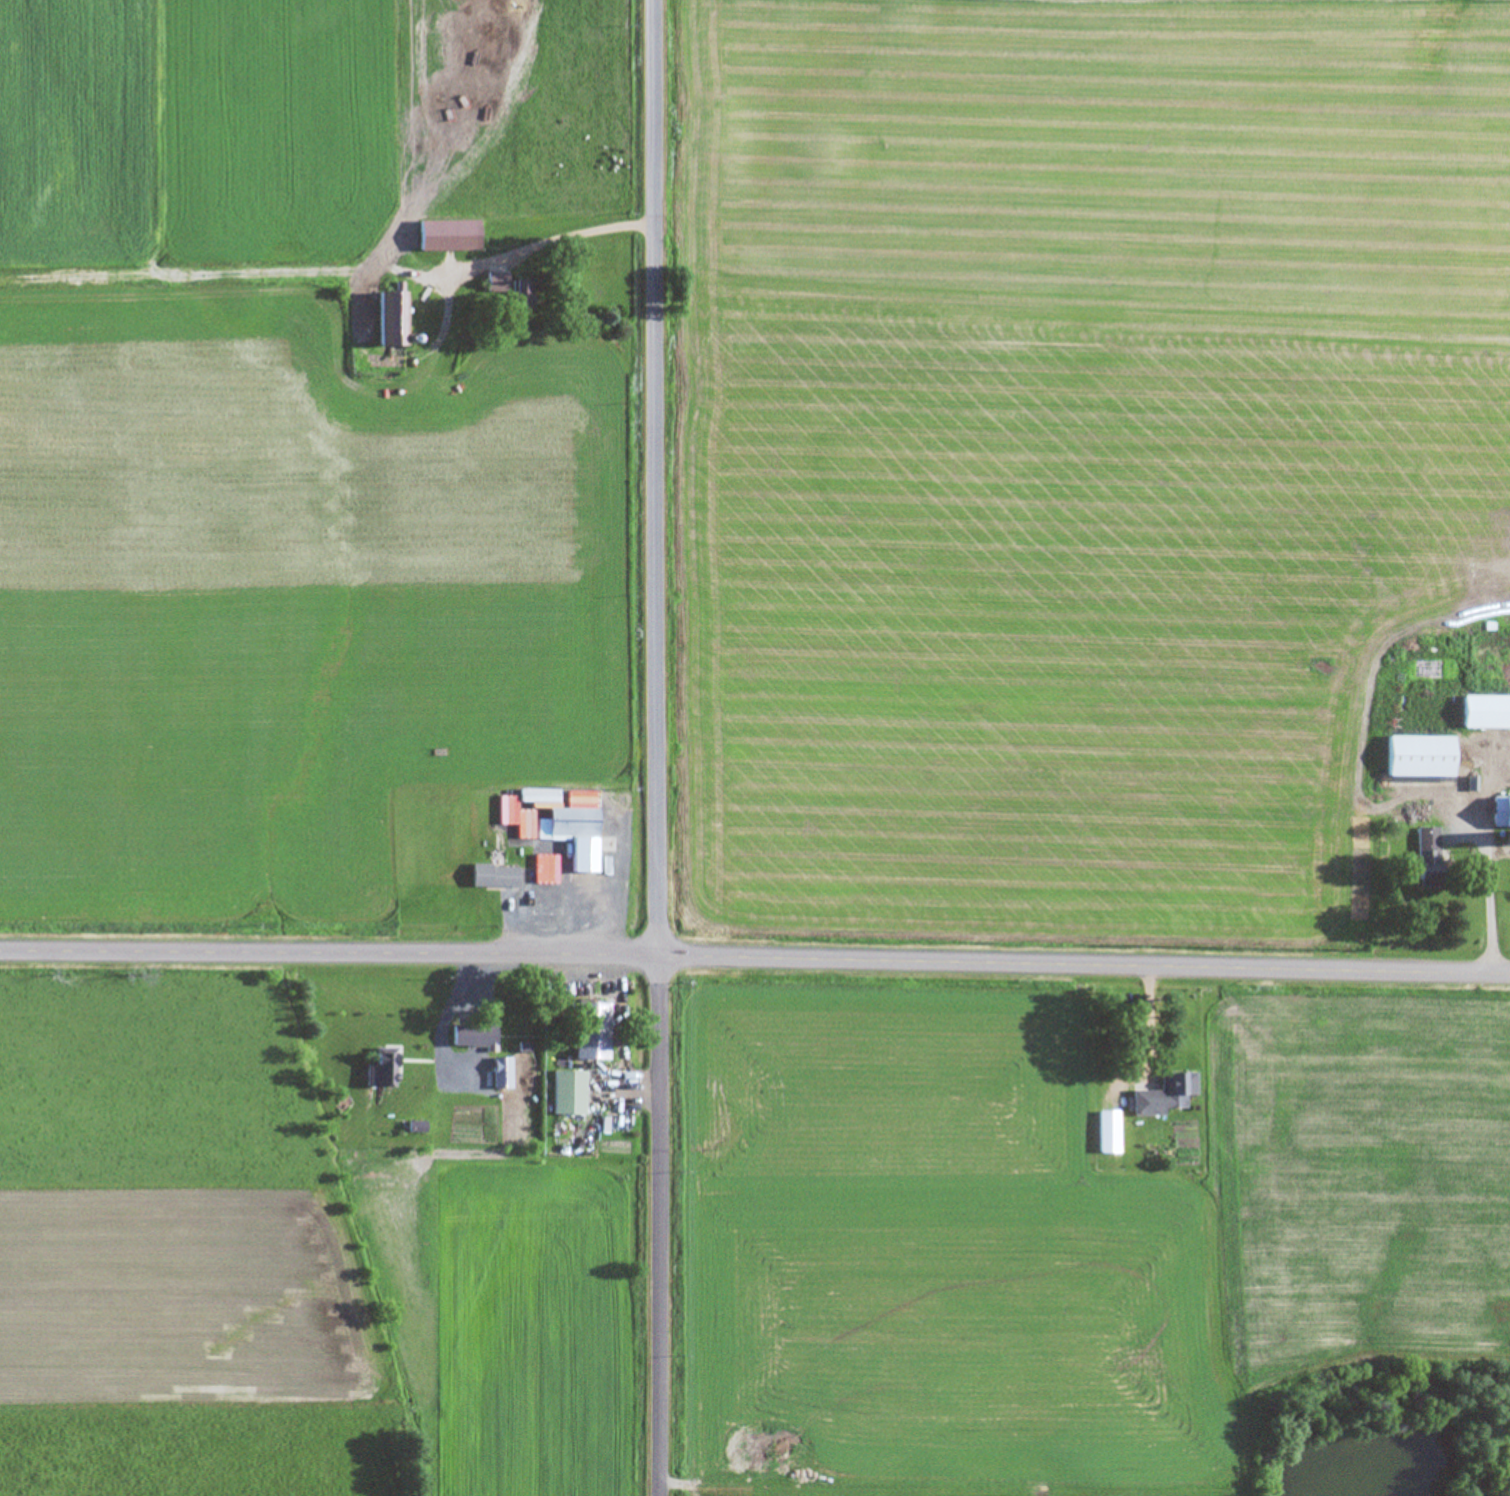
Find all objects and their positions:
building: (445, 236)
road: (542, 241)
building: (495, 283)
building: (520, 296)
building: (387, 320)
building: (1485, 713)
road: (657, 747)
building: (1418, 757)
building: (1503, 813)
building: (575, 837)
building: (1428, 855)
building: (553, 863)
road: (1485, 864)
building: (493, 877)
road: (755, 958)
building: (488, 1028)
building: (588, 1032)
building: (567, 1093)
building: (1160, 1097)
building: (1107, 1133)

